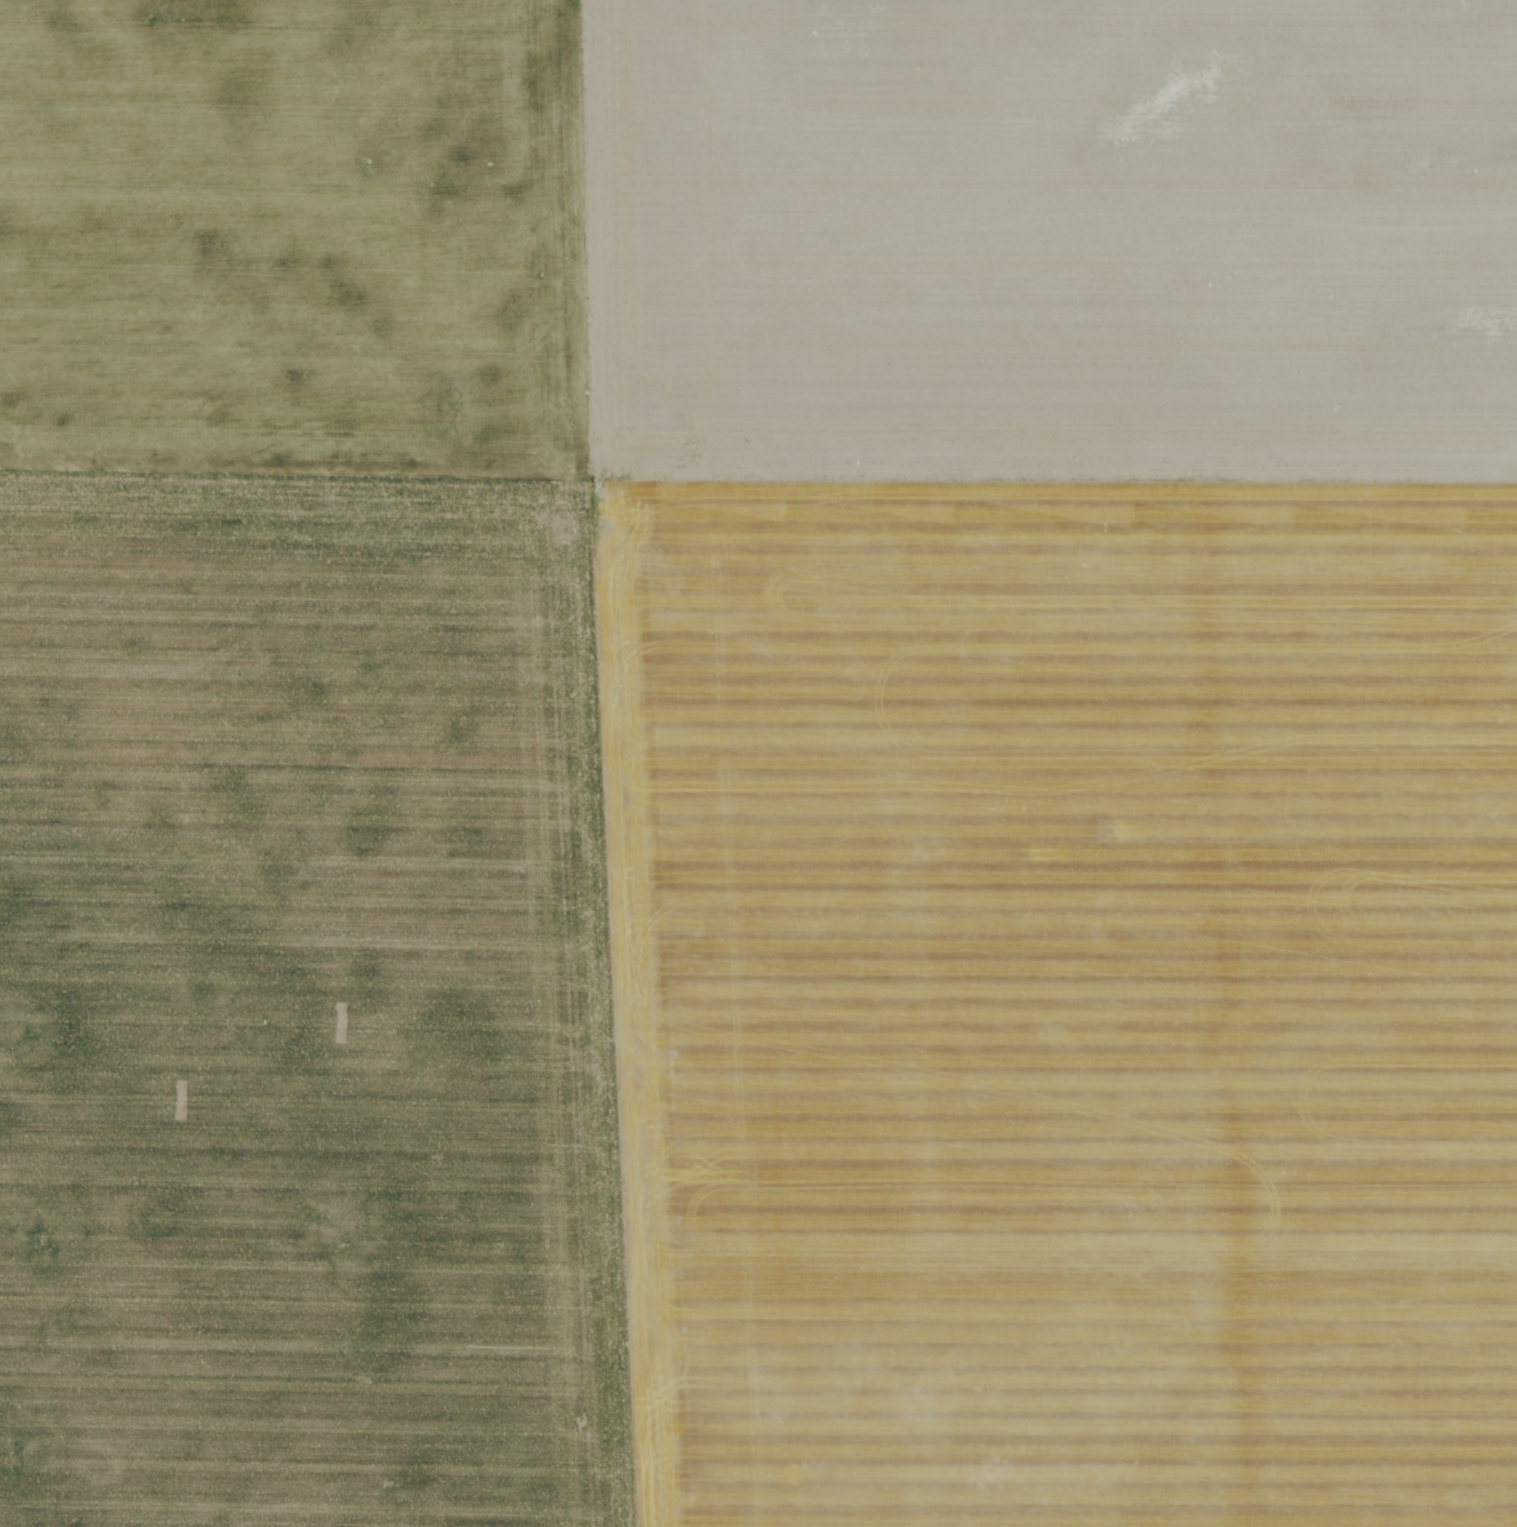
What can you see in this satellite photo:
crop: (758, 763)

